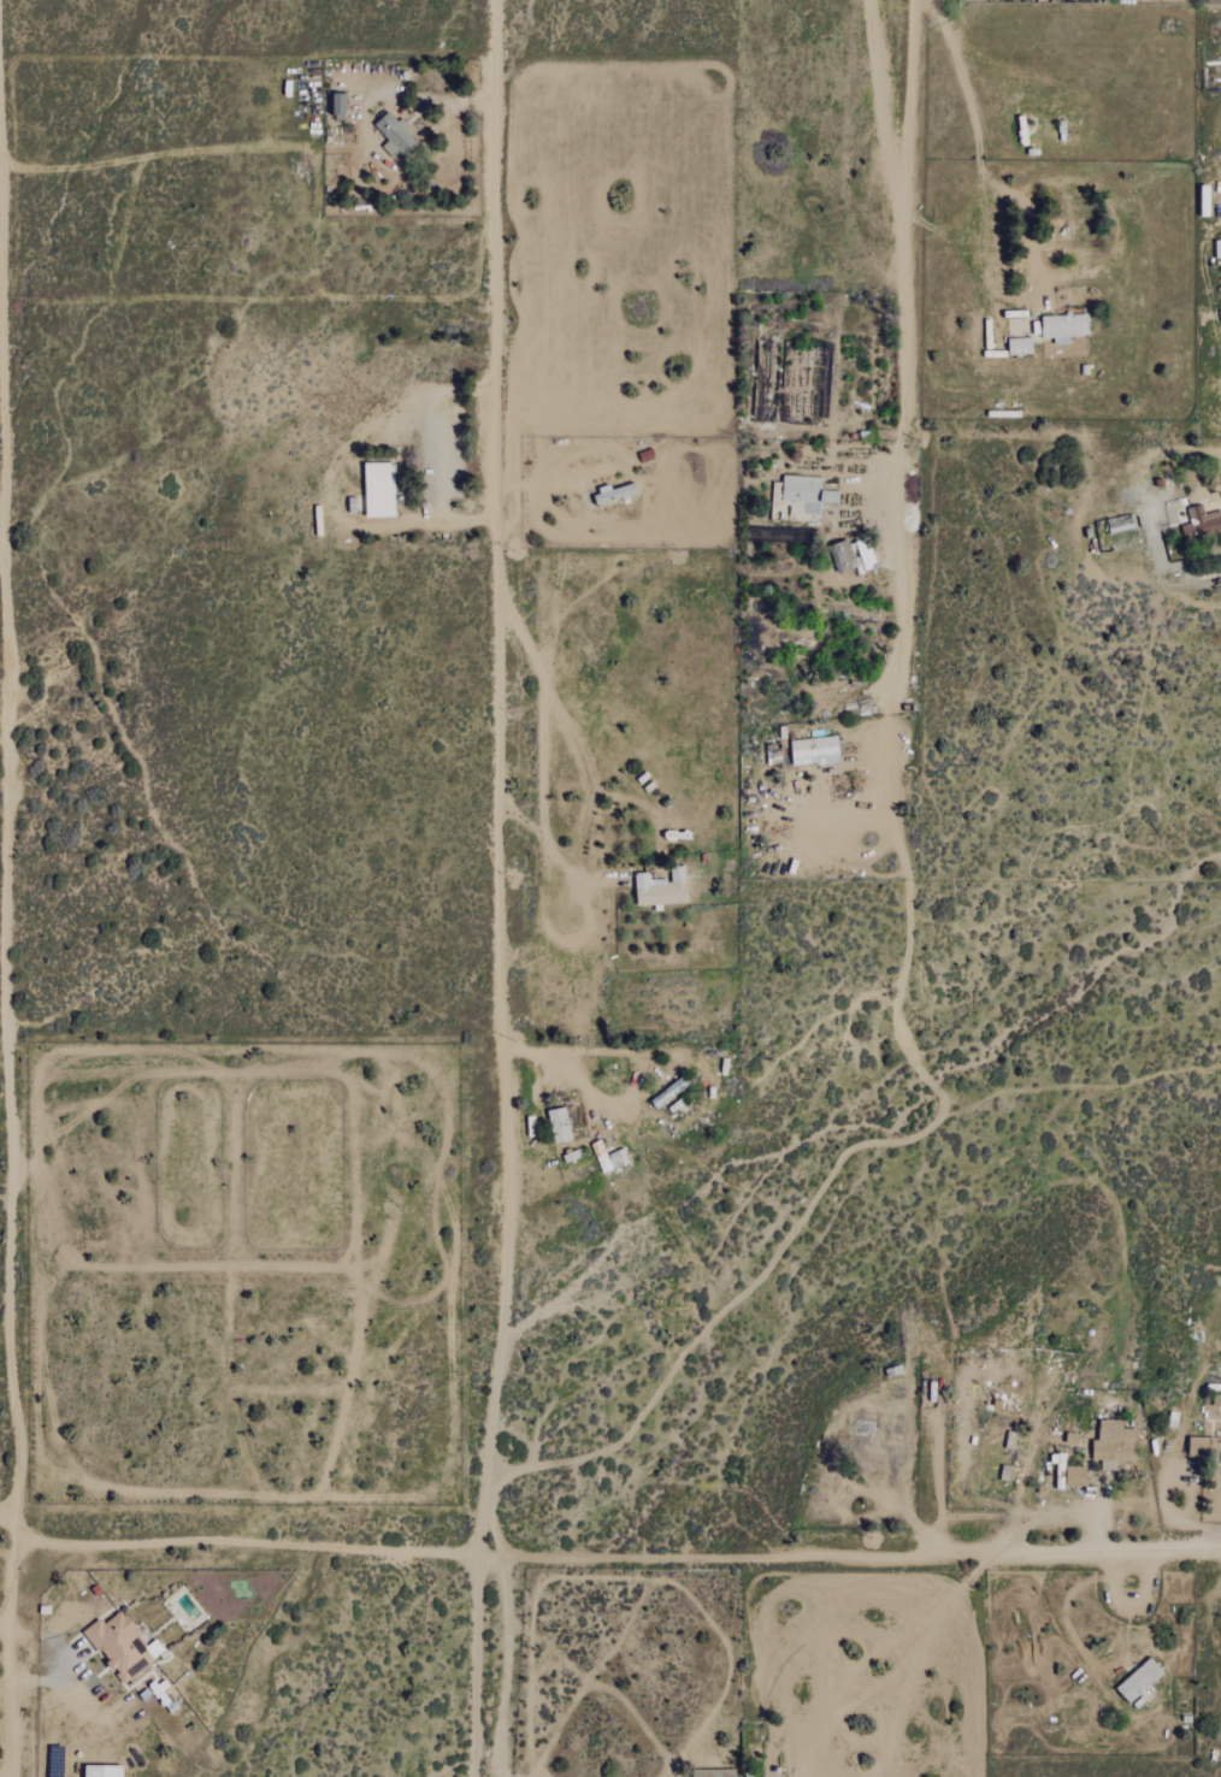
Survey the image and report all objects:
road: (877, 84)
building: (338, 104)
building: (395, 136)
road: (1026, 211)
road: (903, 217)
building: (1217, 247)
building: (1063, 327)
building: (1020, 346)
road: (554, 476)
building: (379, 490)
building: (807, 492)
building: (613, 494)
building: (1199, 521)
building: (842, 556)
road: (898, 572)
building: (814, 751)
road: (500, 889)
building: (661, 889)
road: (6, 938)
road: (615, 1103)
building: (559, 1126)
building: (609, 1159)
building: (1113, 1442)
building: (875, 1445)
building: (1199, 1448)
building: (1217, 1452)
building: (1075, 1476)
road: (1049, 1513)
road: (607, 1554)
road: (1066, 1598)
road: (5, 1614)
building: (123, 1646)
road: (506, 1667)
building: (1139, 1679)
building: (102, 1771)
building: (714, 1773)

